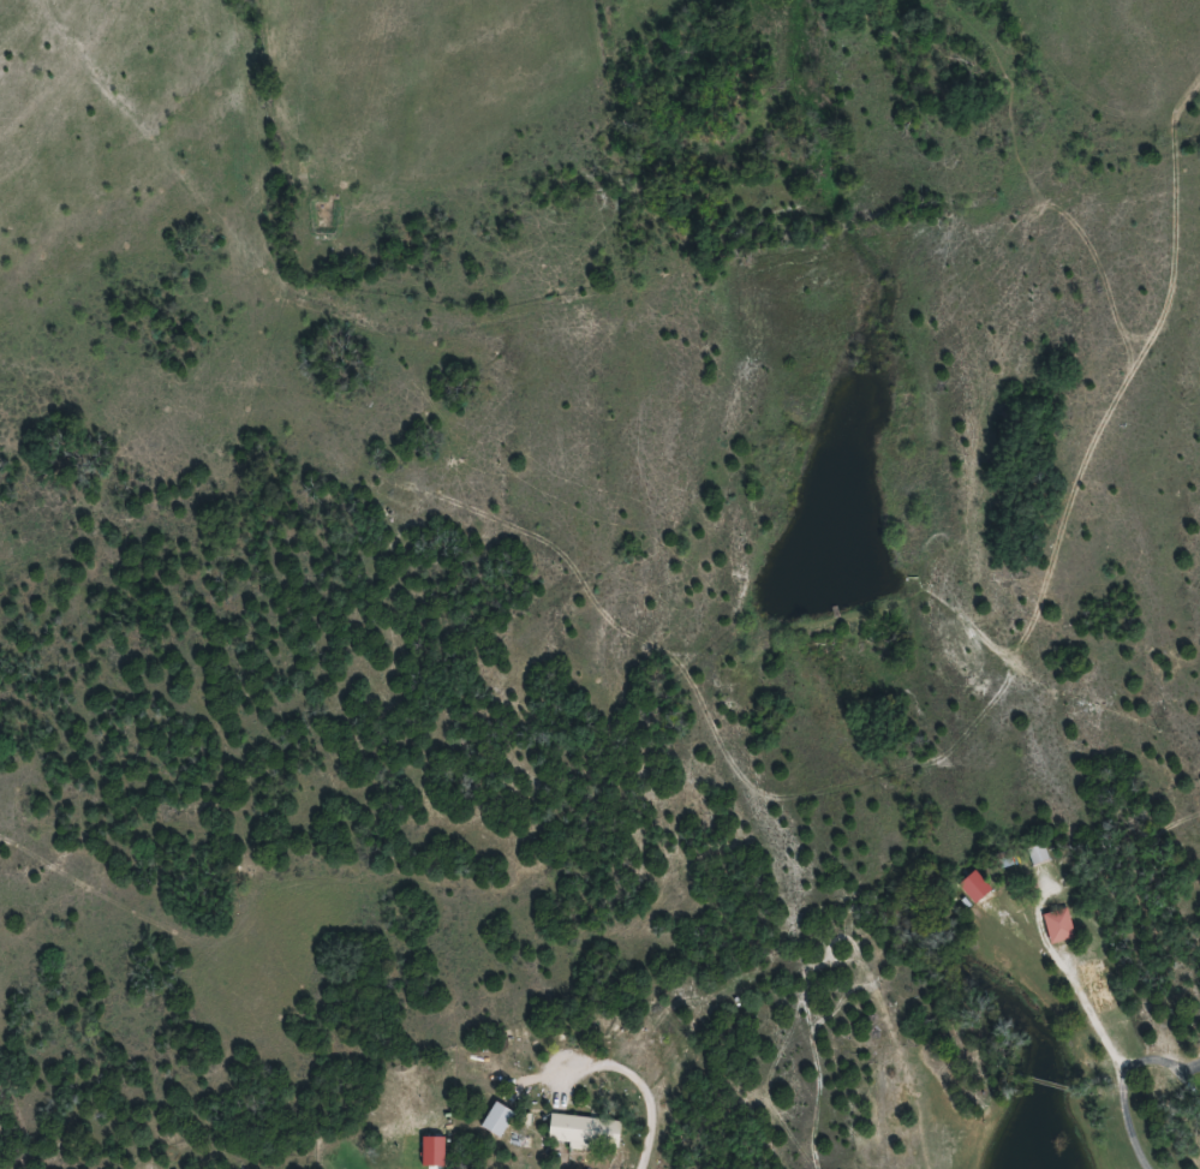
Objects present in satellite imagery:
building: (1034, 854)
building: (1055, 926)
building: (492, 1119)
building: (580, 1131)

